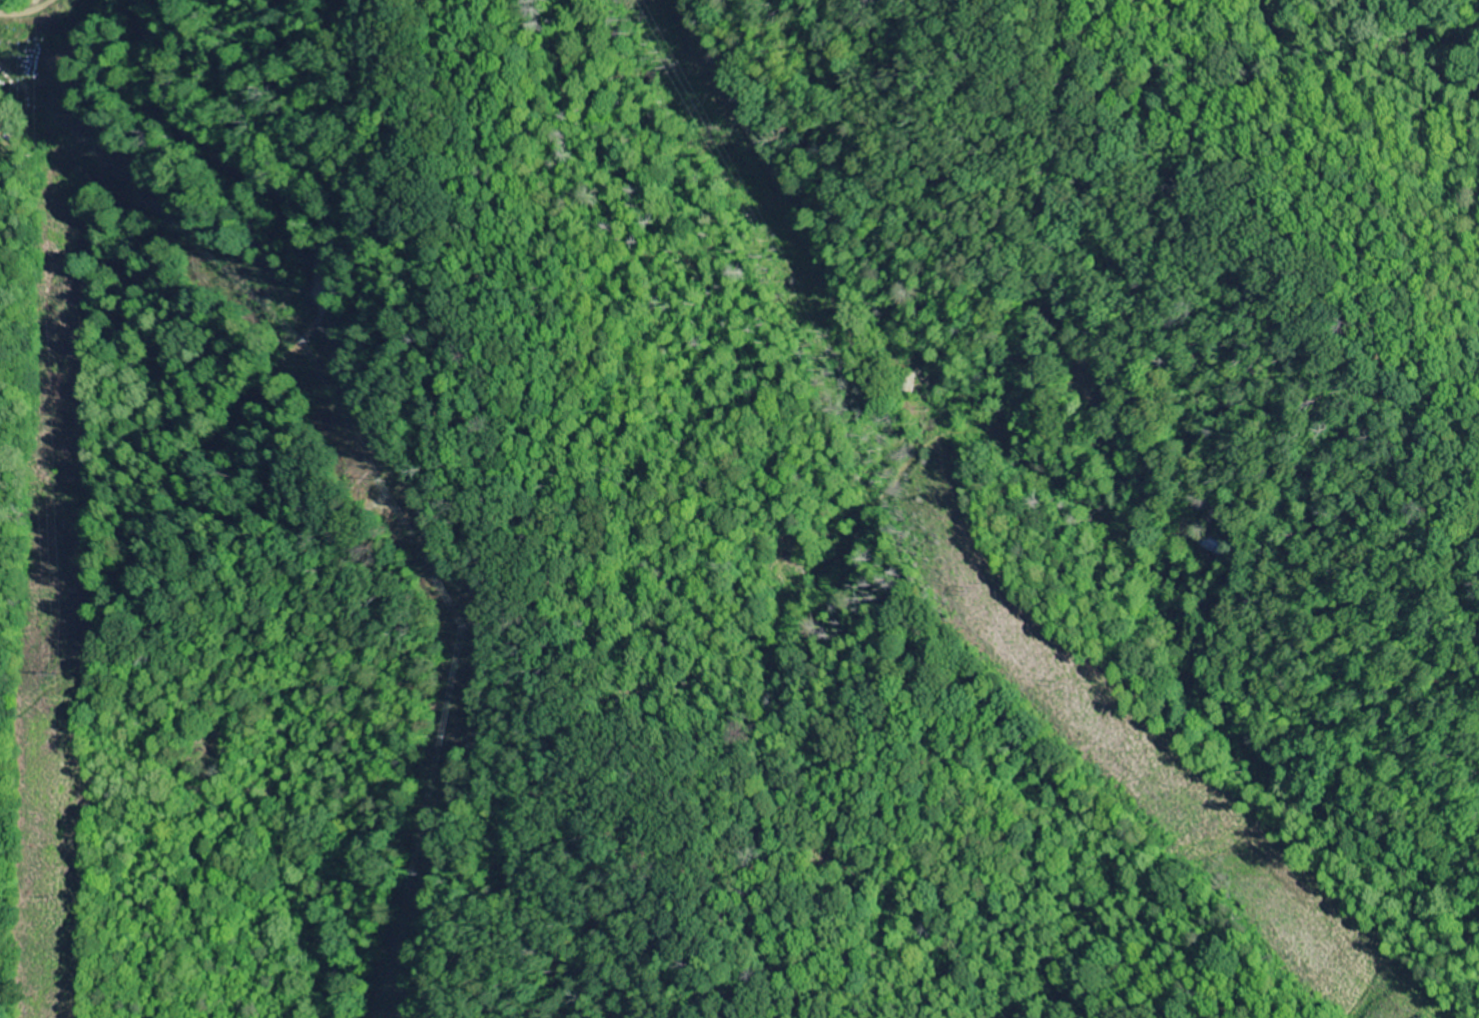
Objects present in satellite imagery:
power tower: (961, 595)
road: (1333, 807)

